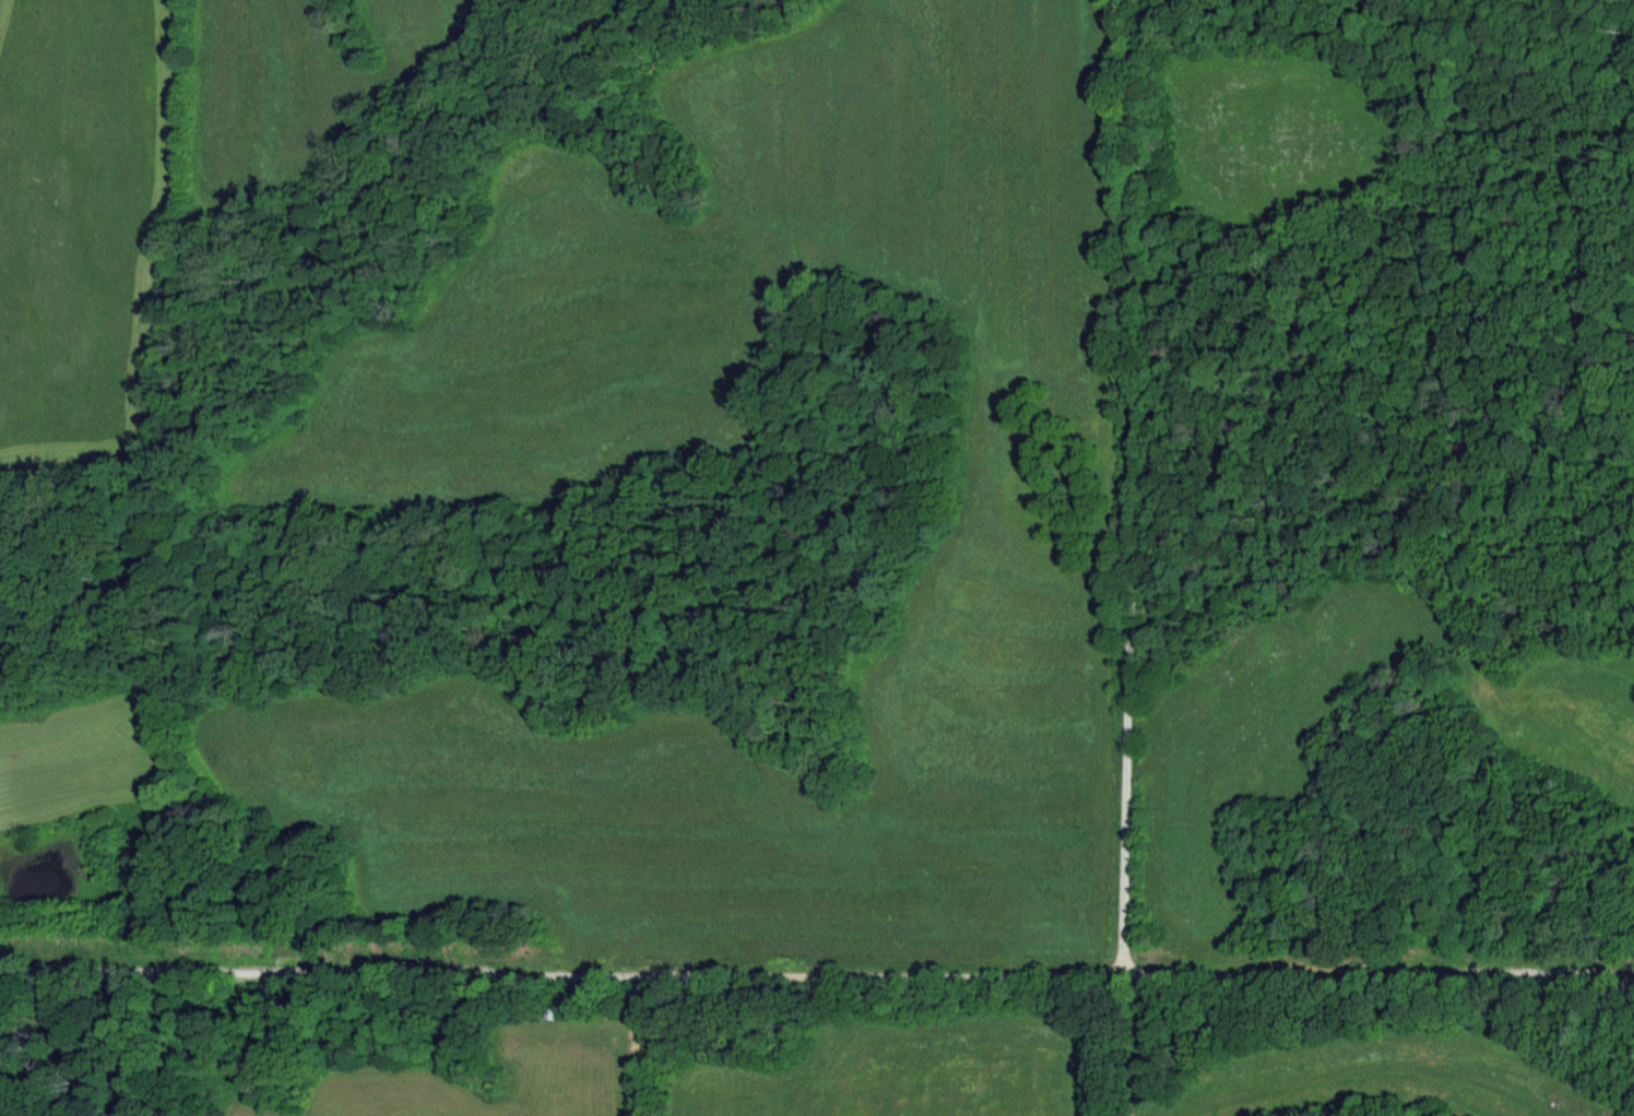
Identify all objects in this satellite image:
road: (1139, 490)
road: (817, 977)

